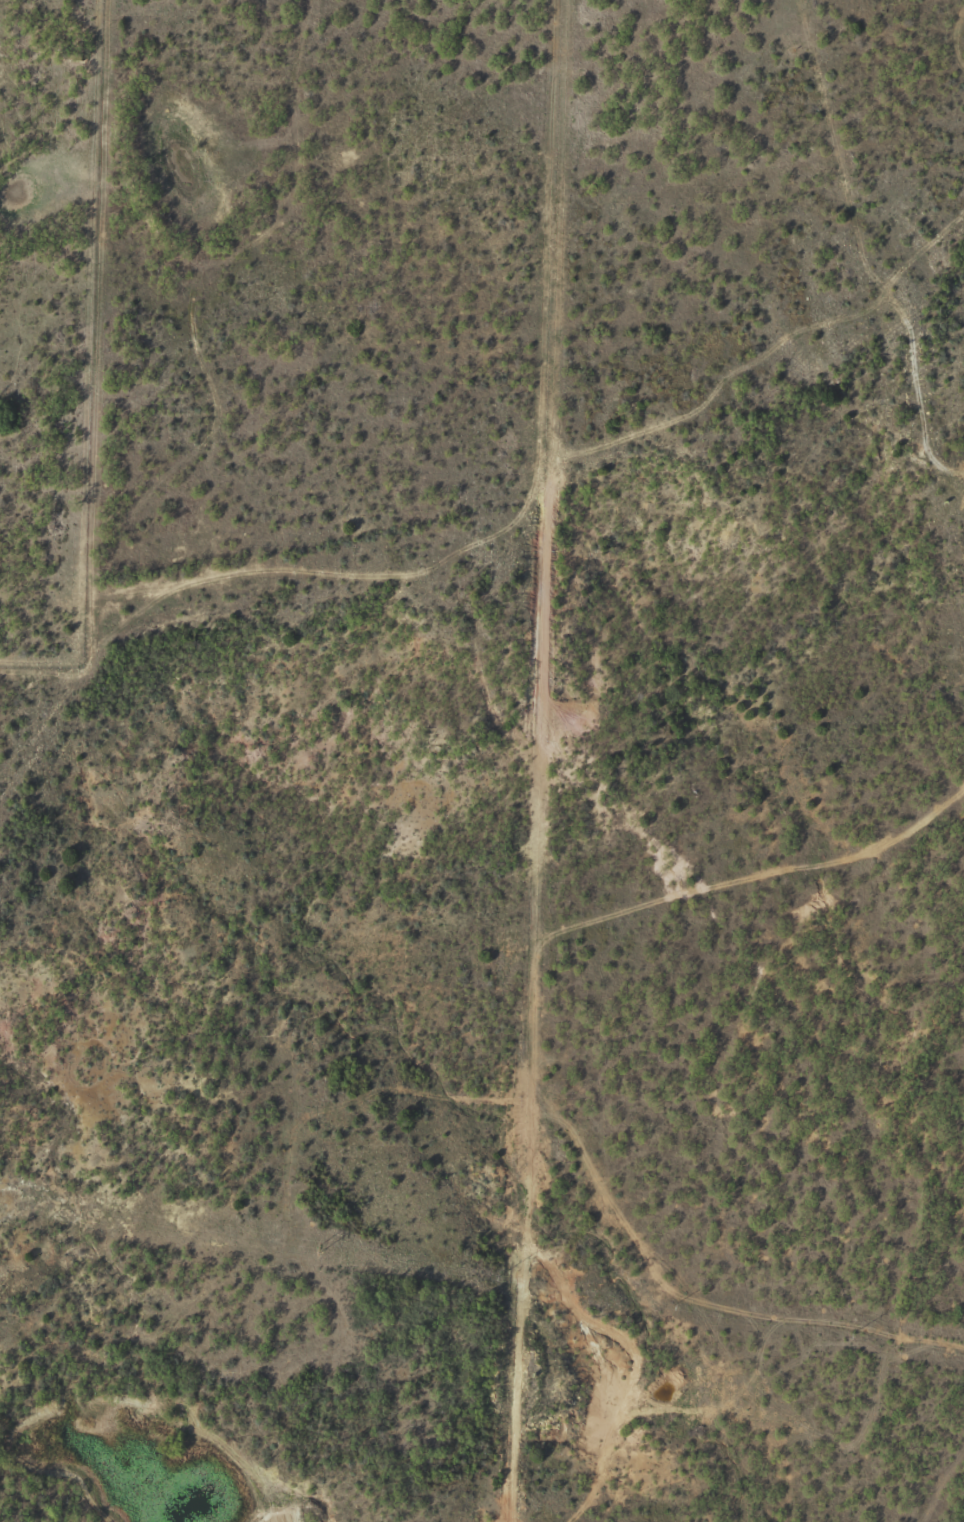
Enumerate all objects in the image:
road: (227, 327)

